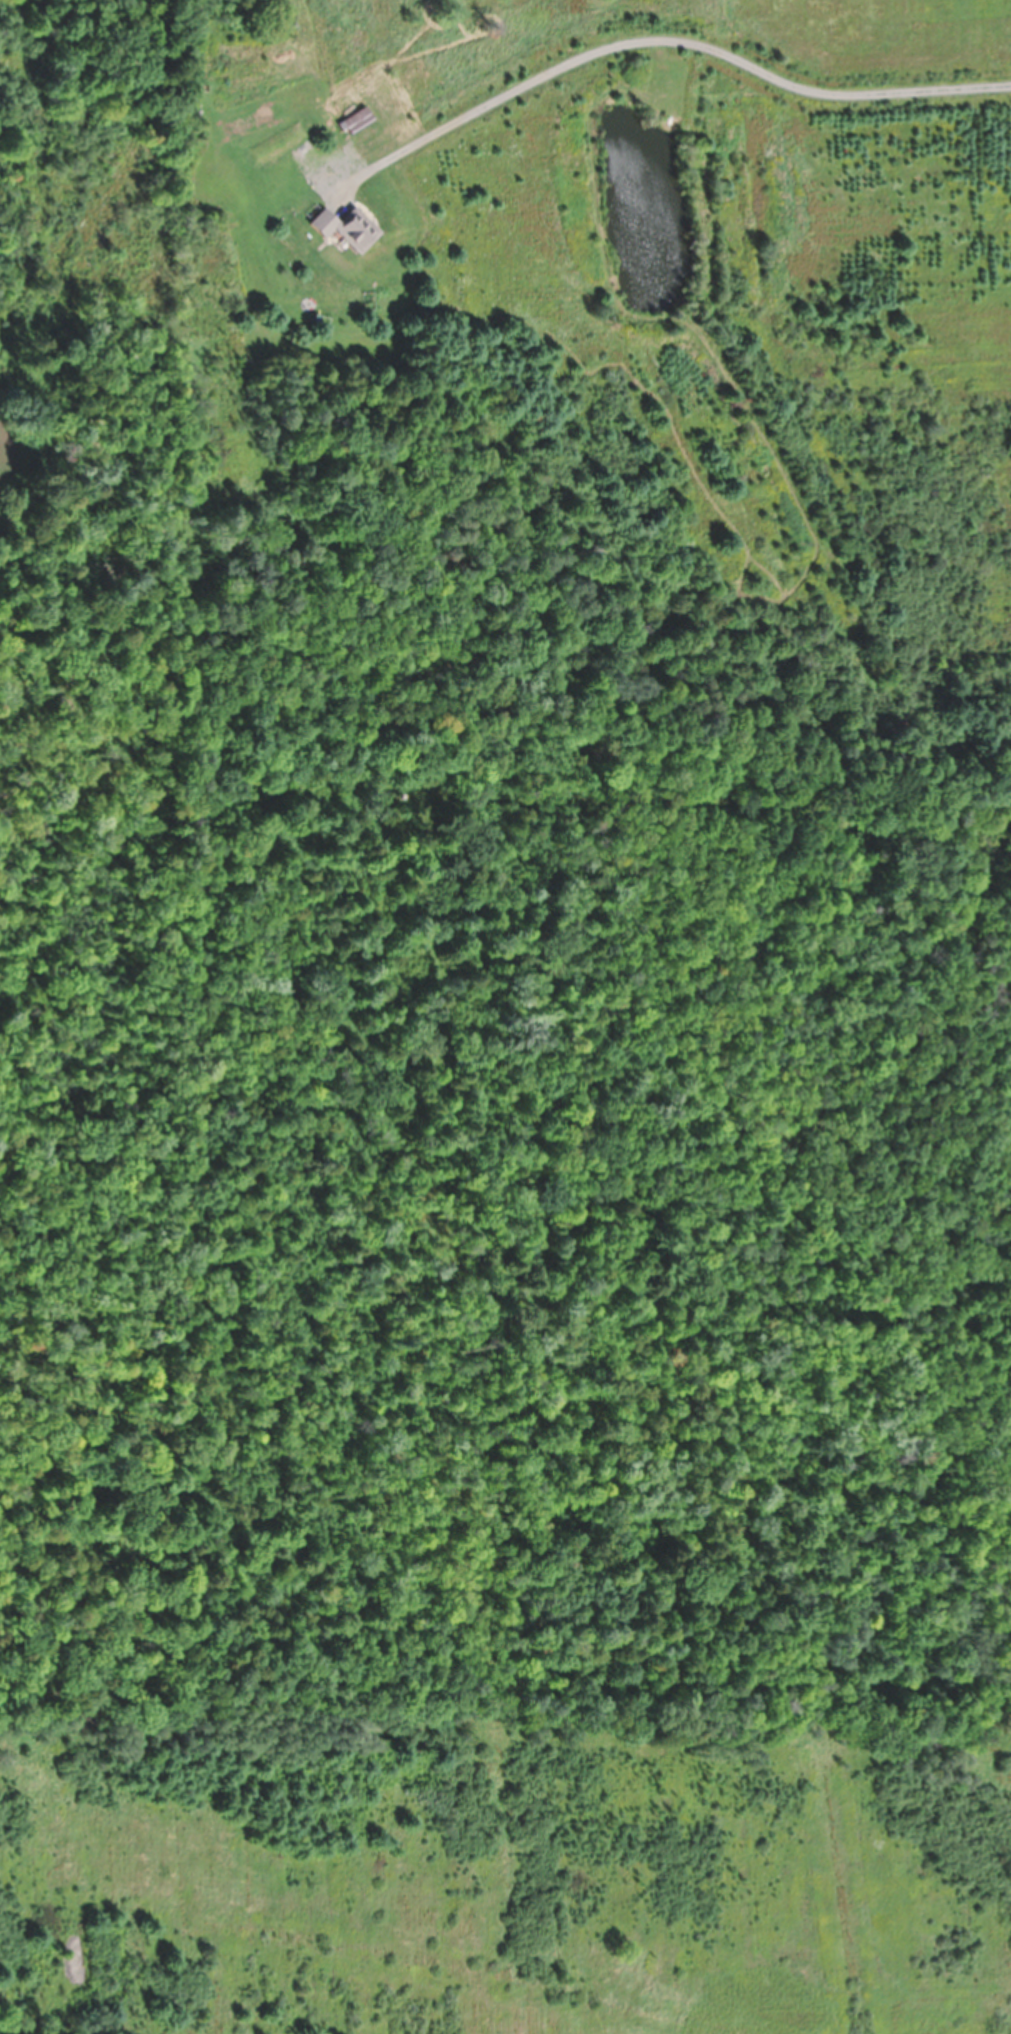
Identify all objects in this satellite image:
road: (659, 31)
building: (354, 119)
building: (348, 227)
building: (831, 886)

